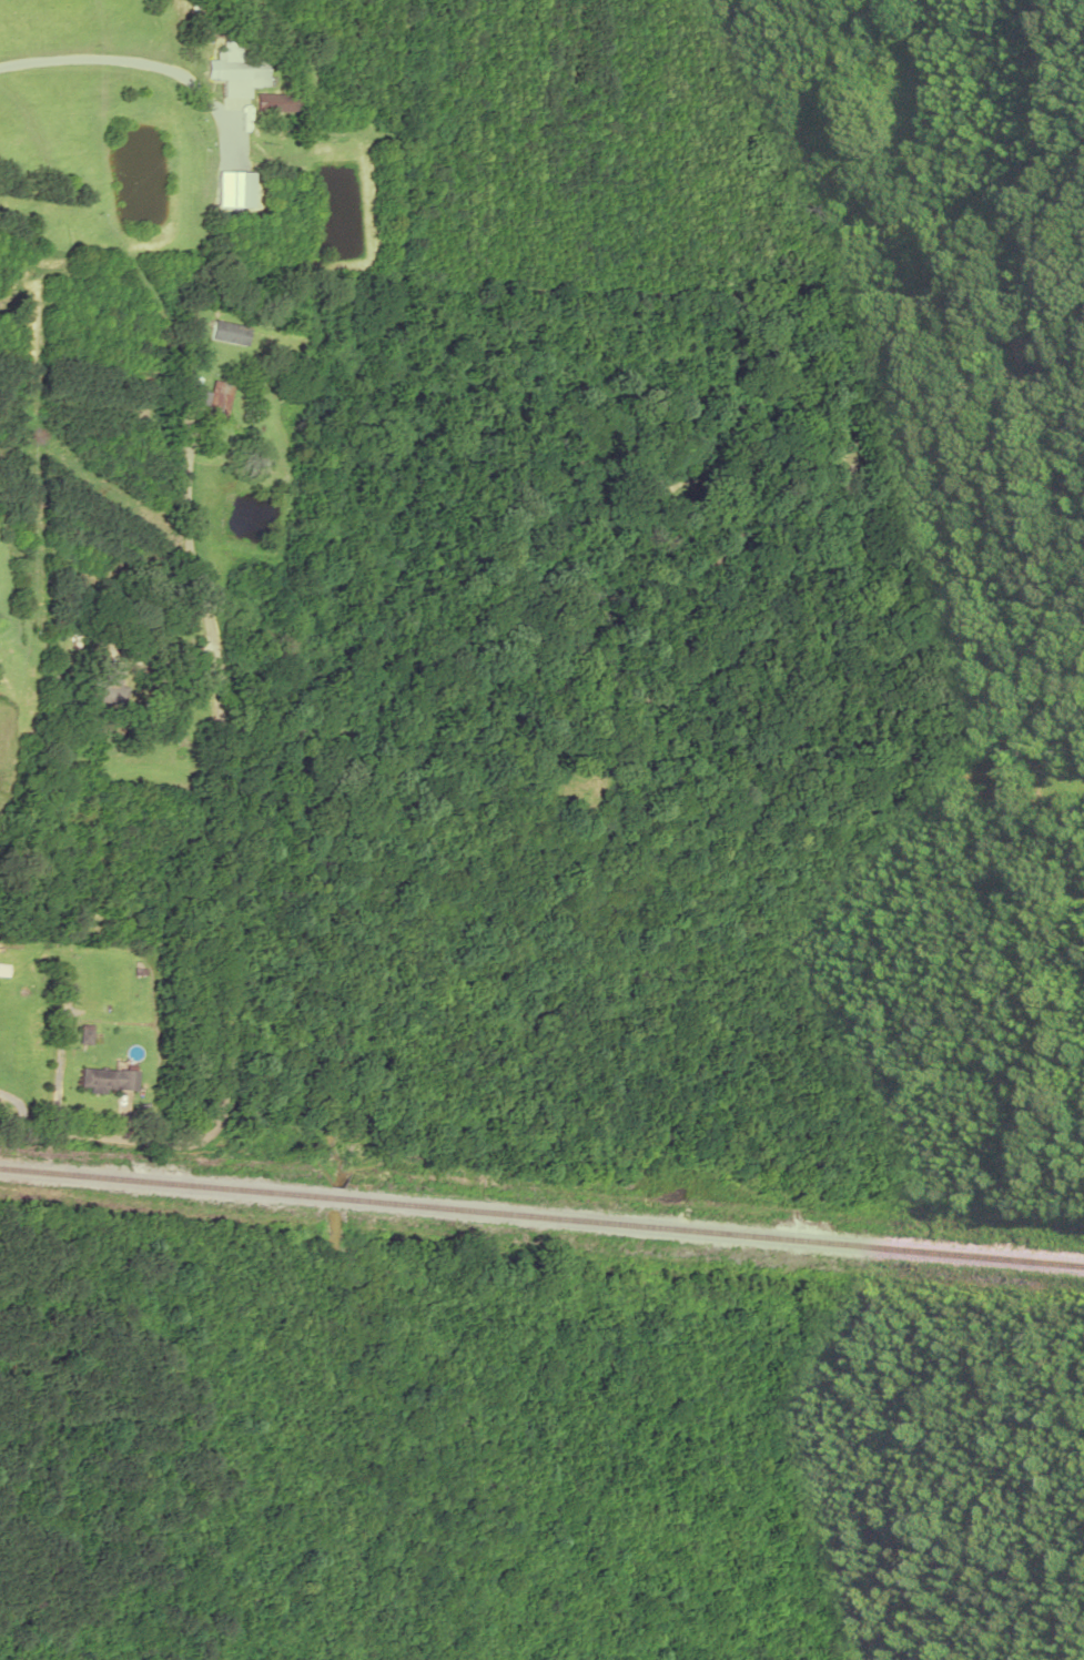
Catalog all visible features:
building: (237, 68)
building: (275, 102)
building: (273, 134)
building: (229, 332)
building: (1050, 364)
building: (216, 398)
road: (222, 818)
building: (111, 1079)
railway: (541, 1208)

